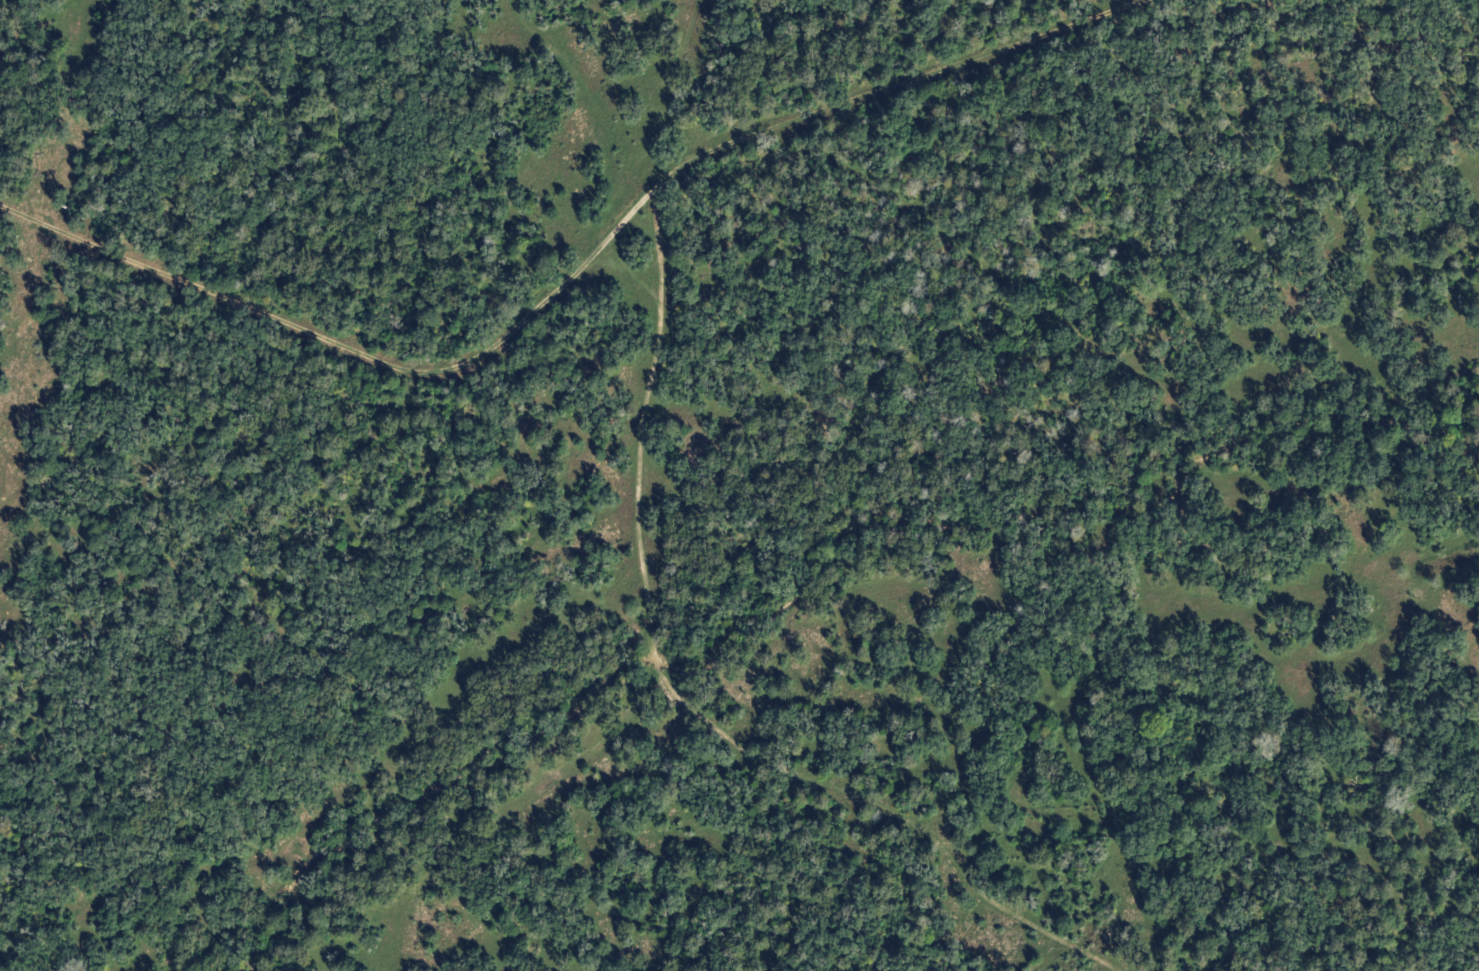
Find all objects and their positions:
road: (333, 372)

